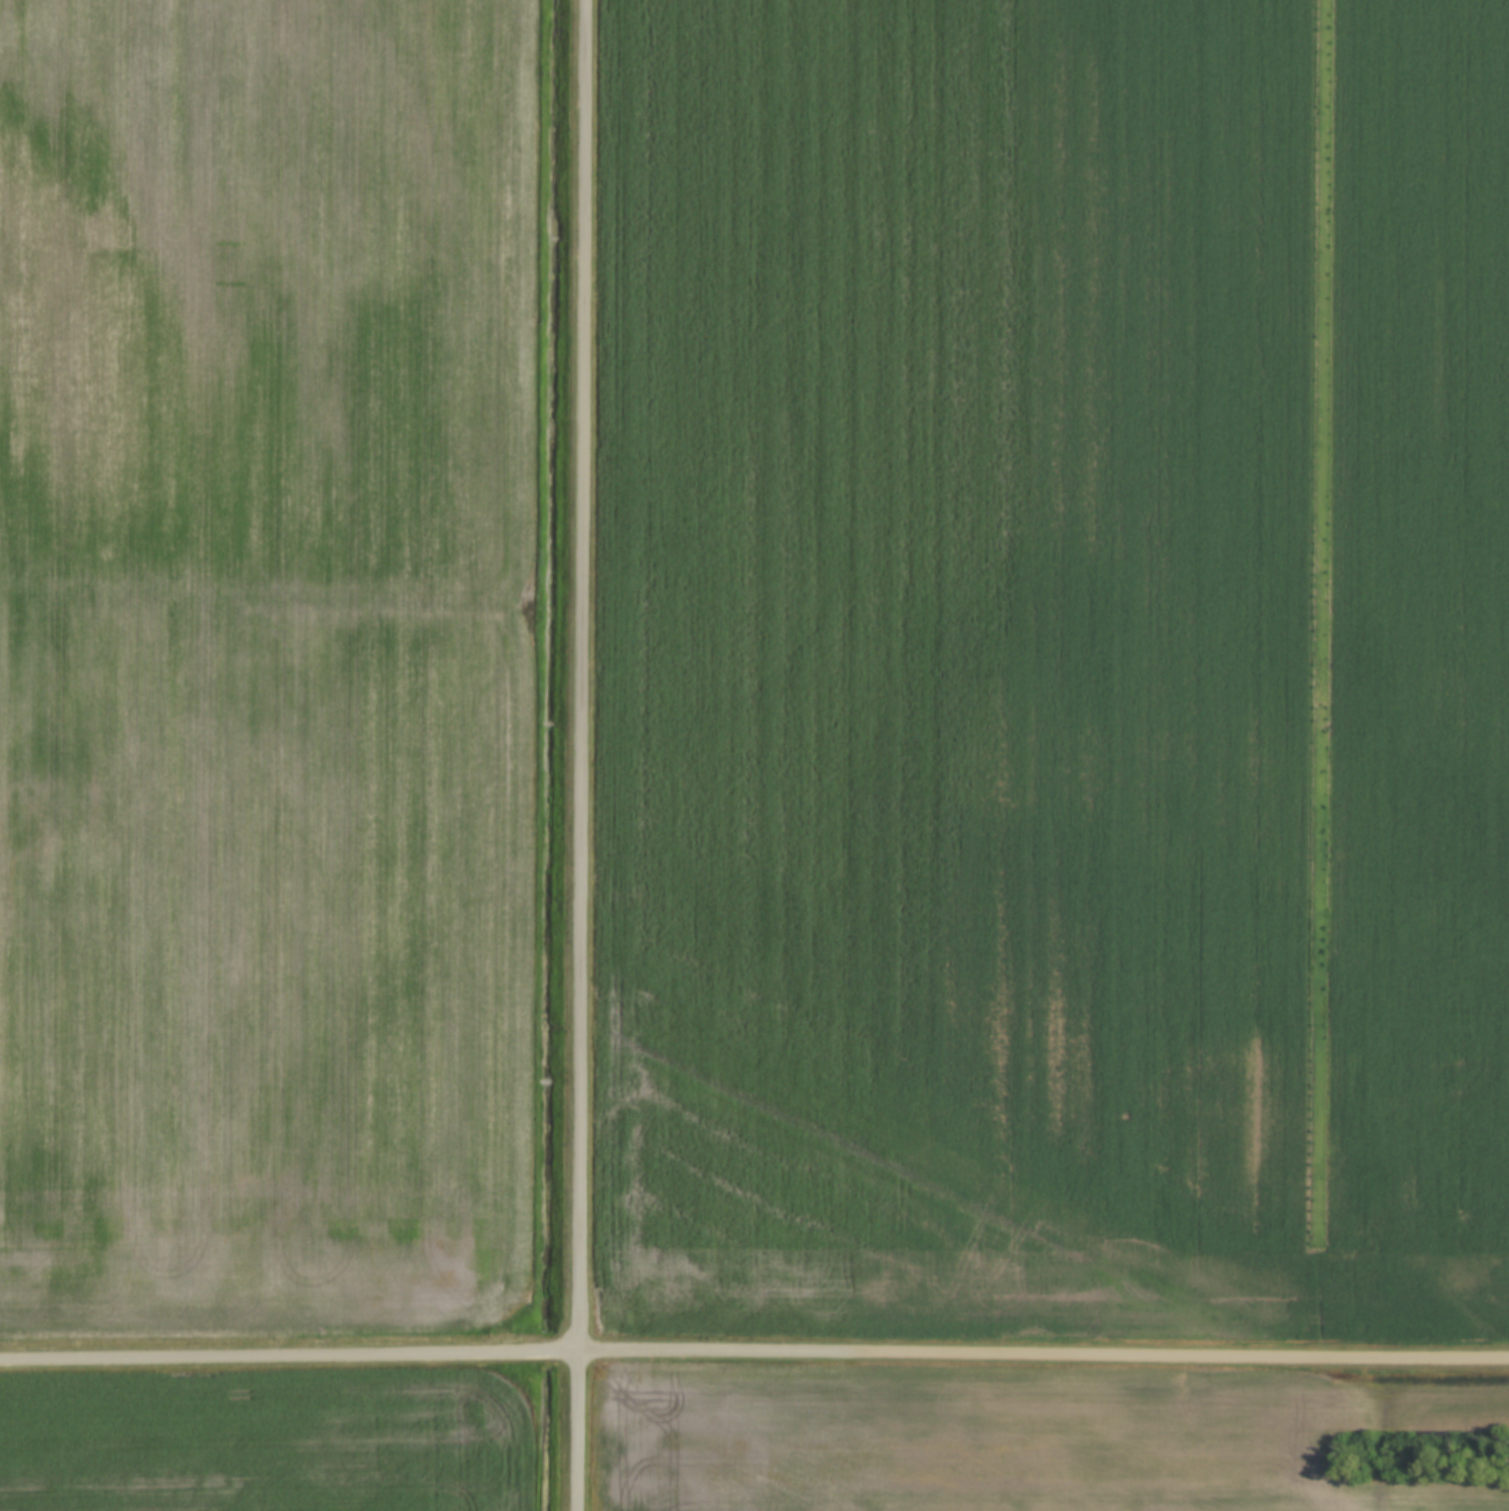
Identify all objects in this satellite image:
road: (580, 755)
road: (754, 1351)

